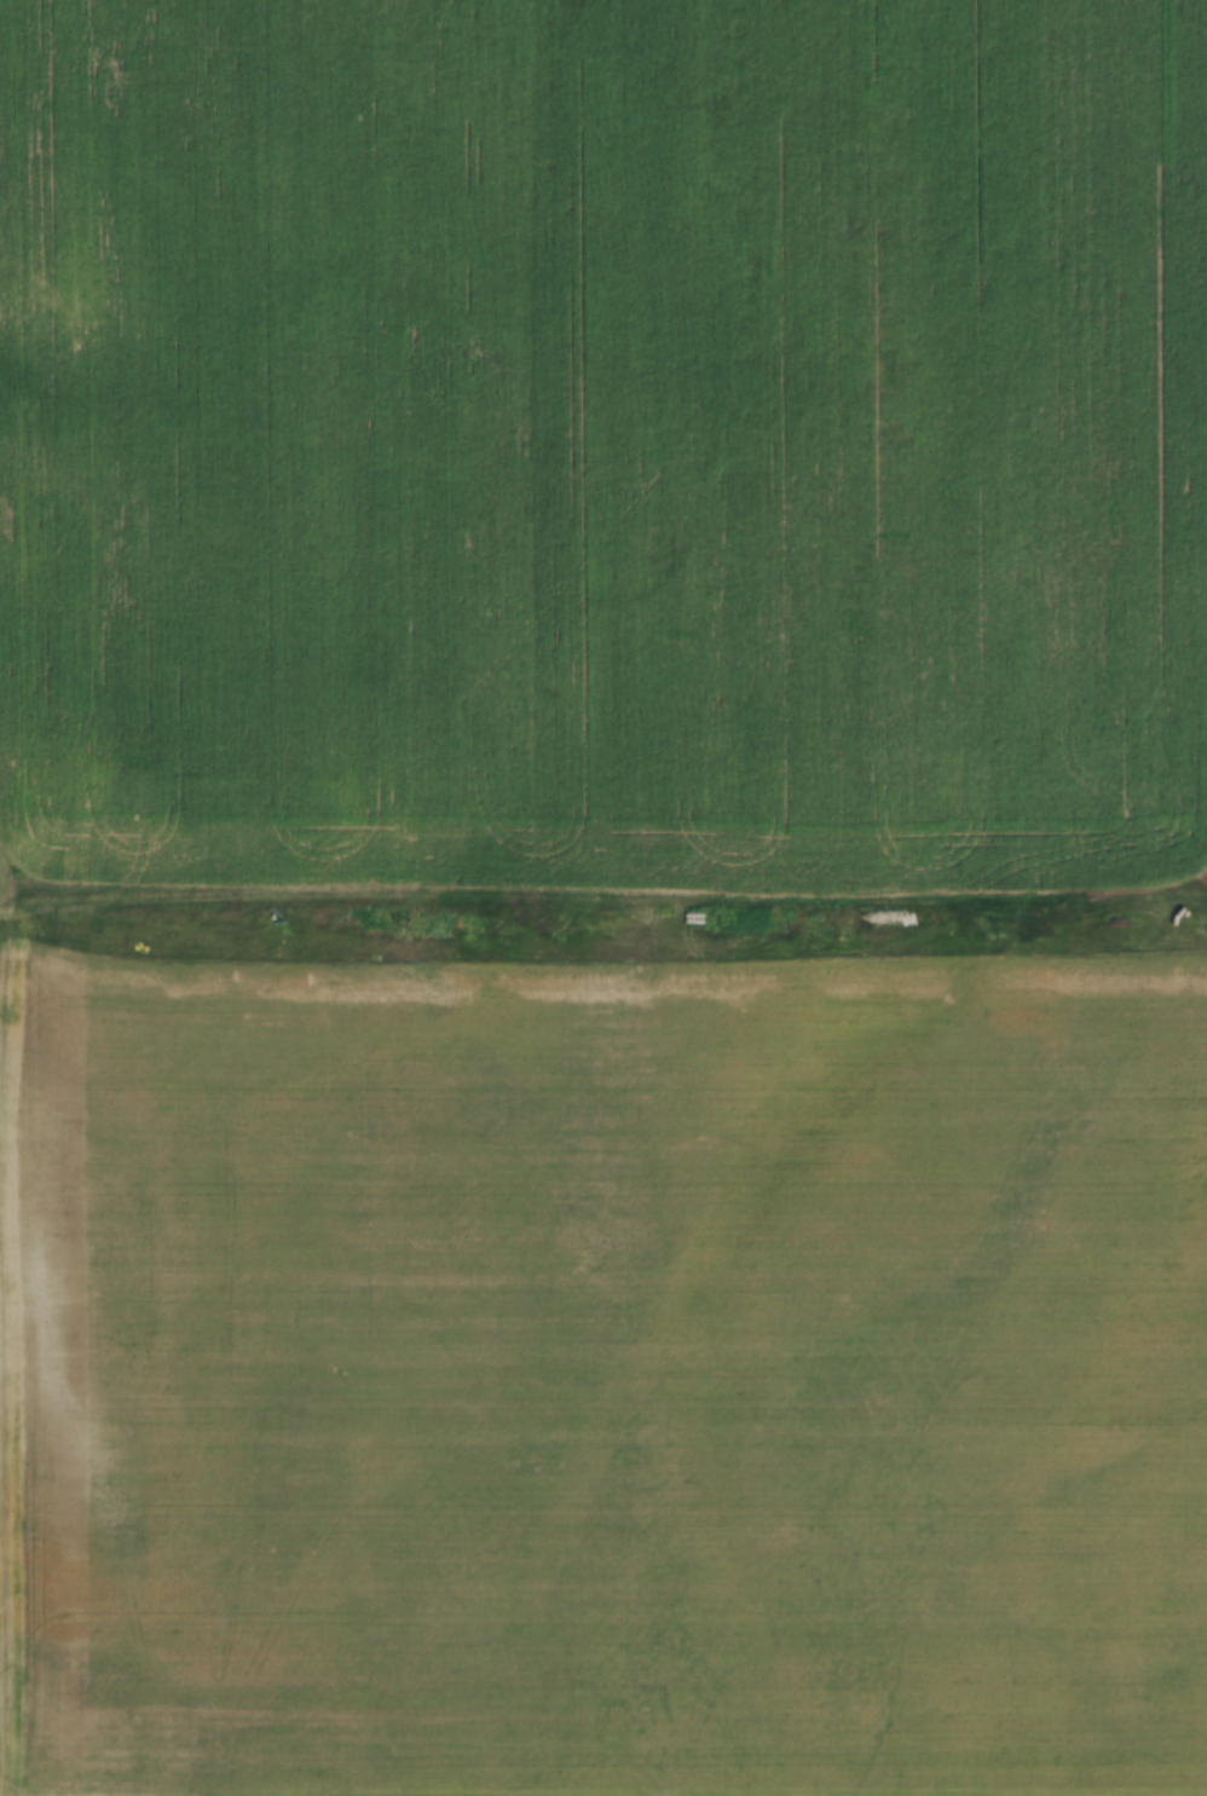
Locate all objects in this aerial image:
road: (603, 925)
crop: (603, 1367)

